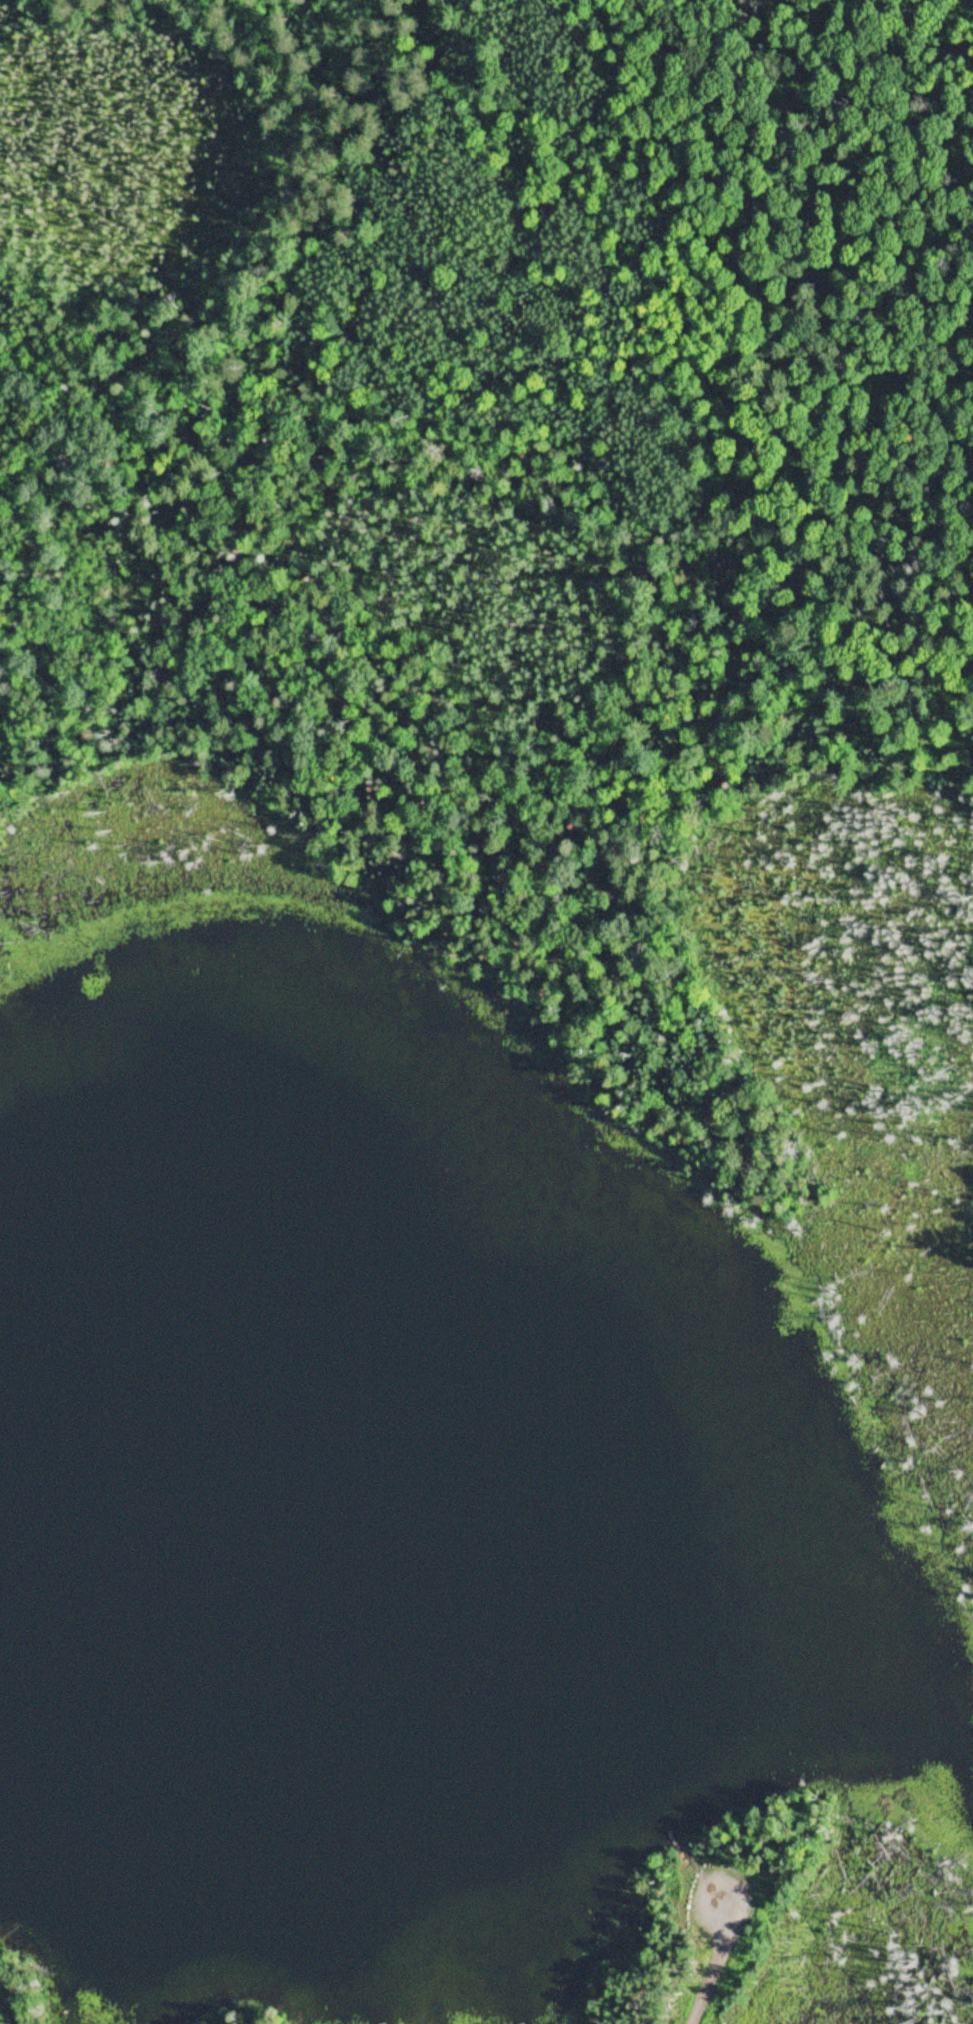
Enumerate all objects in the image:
parking lot: (714, 1897)
road: (709, 1972)
road: (10, 2002)

